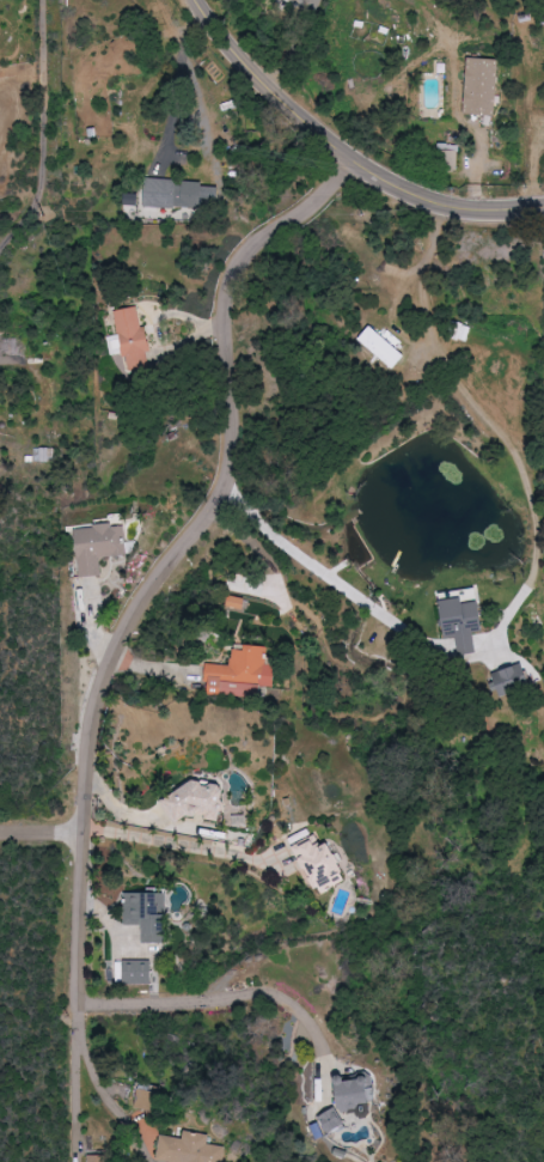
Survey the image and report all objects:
road: (293, 47)
road: (178, 86)
building: (482, 86)
road: (47, 135)
road: (342, 152)
building: (177, 193)
building: (134, 339)
building: (385, 349)
road: (497, 430)
building: (99, 547)
road: (169, 567)
road: (346, 588)
building: (464, 622)
building: (242, 674)
building: (512, 680)
road: (42, 833)
road: (179, 845)
building: (322, 863)
building: (148, 914)
building: (137, 972)
road: (216, 998)
building: (355, 1093)
road: (74, 1094)
road: (109, 1097)
building: (147, 1100)
building: (332, 1120)
building: (190, 1149)
building: (98, 1158)

